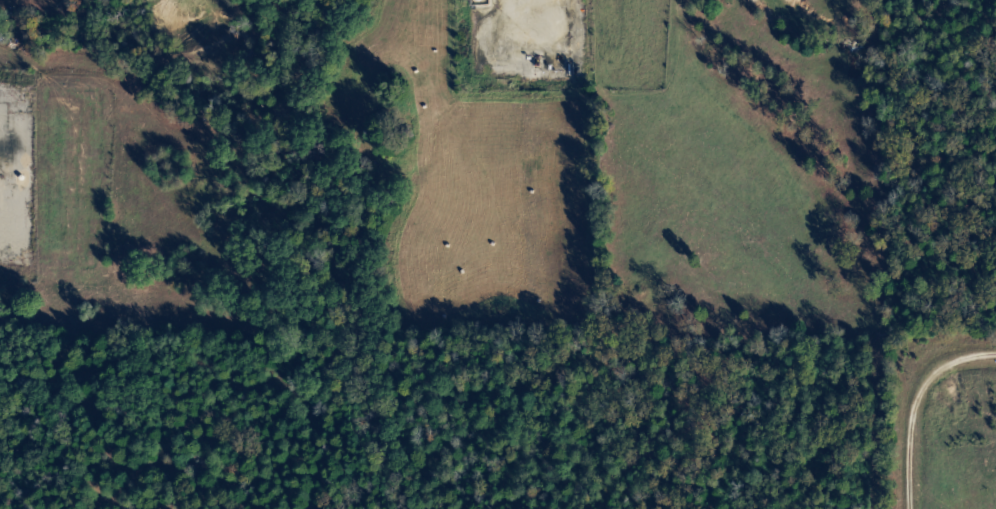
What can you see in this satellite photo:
road: (774, 53)

